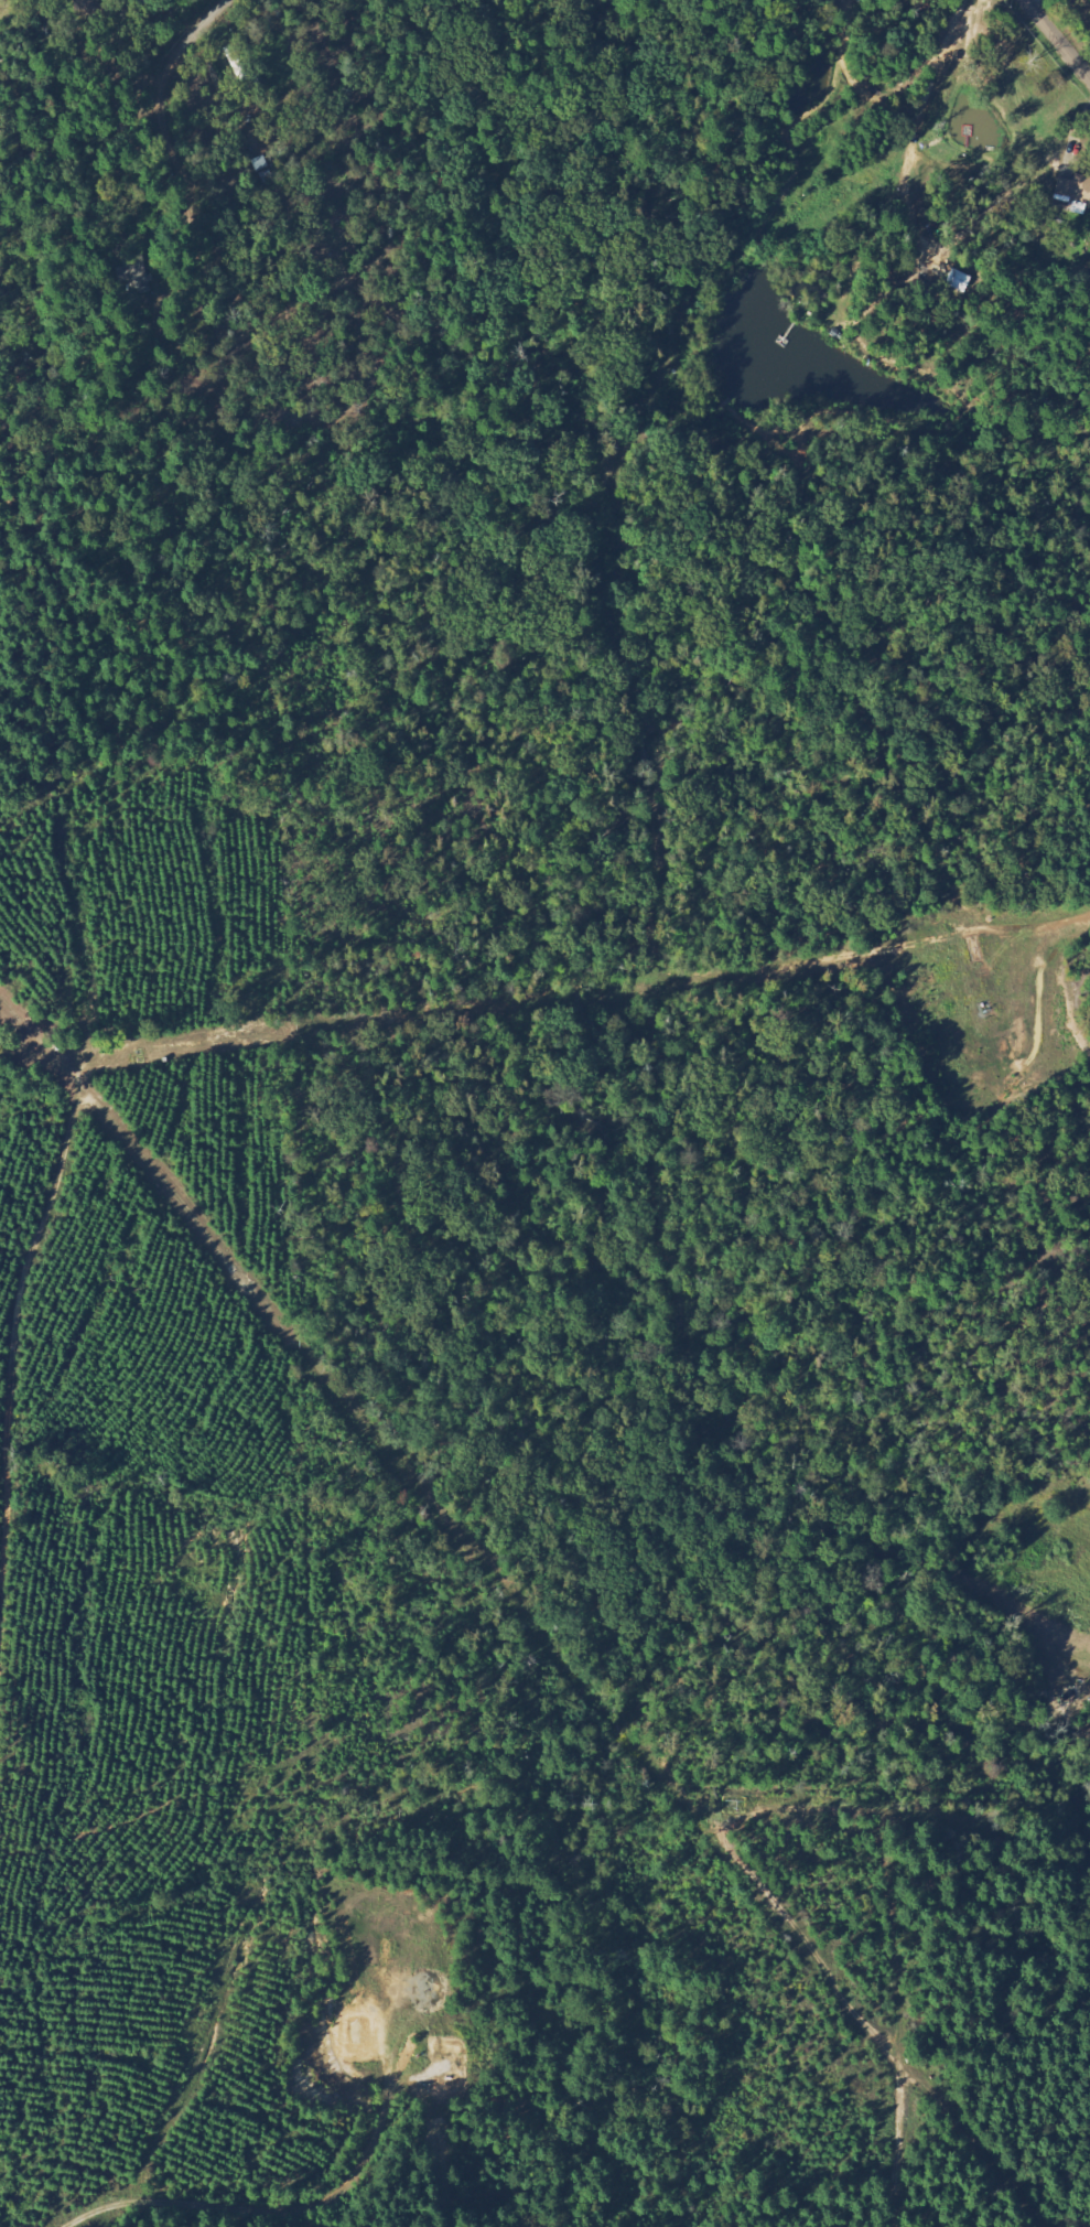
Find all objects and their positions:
road: (1058, 37)
road: (930, 120)
building: (1073, 193)
building: (132, 275)
building: (958, 281)
road: (1040, 986)

